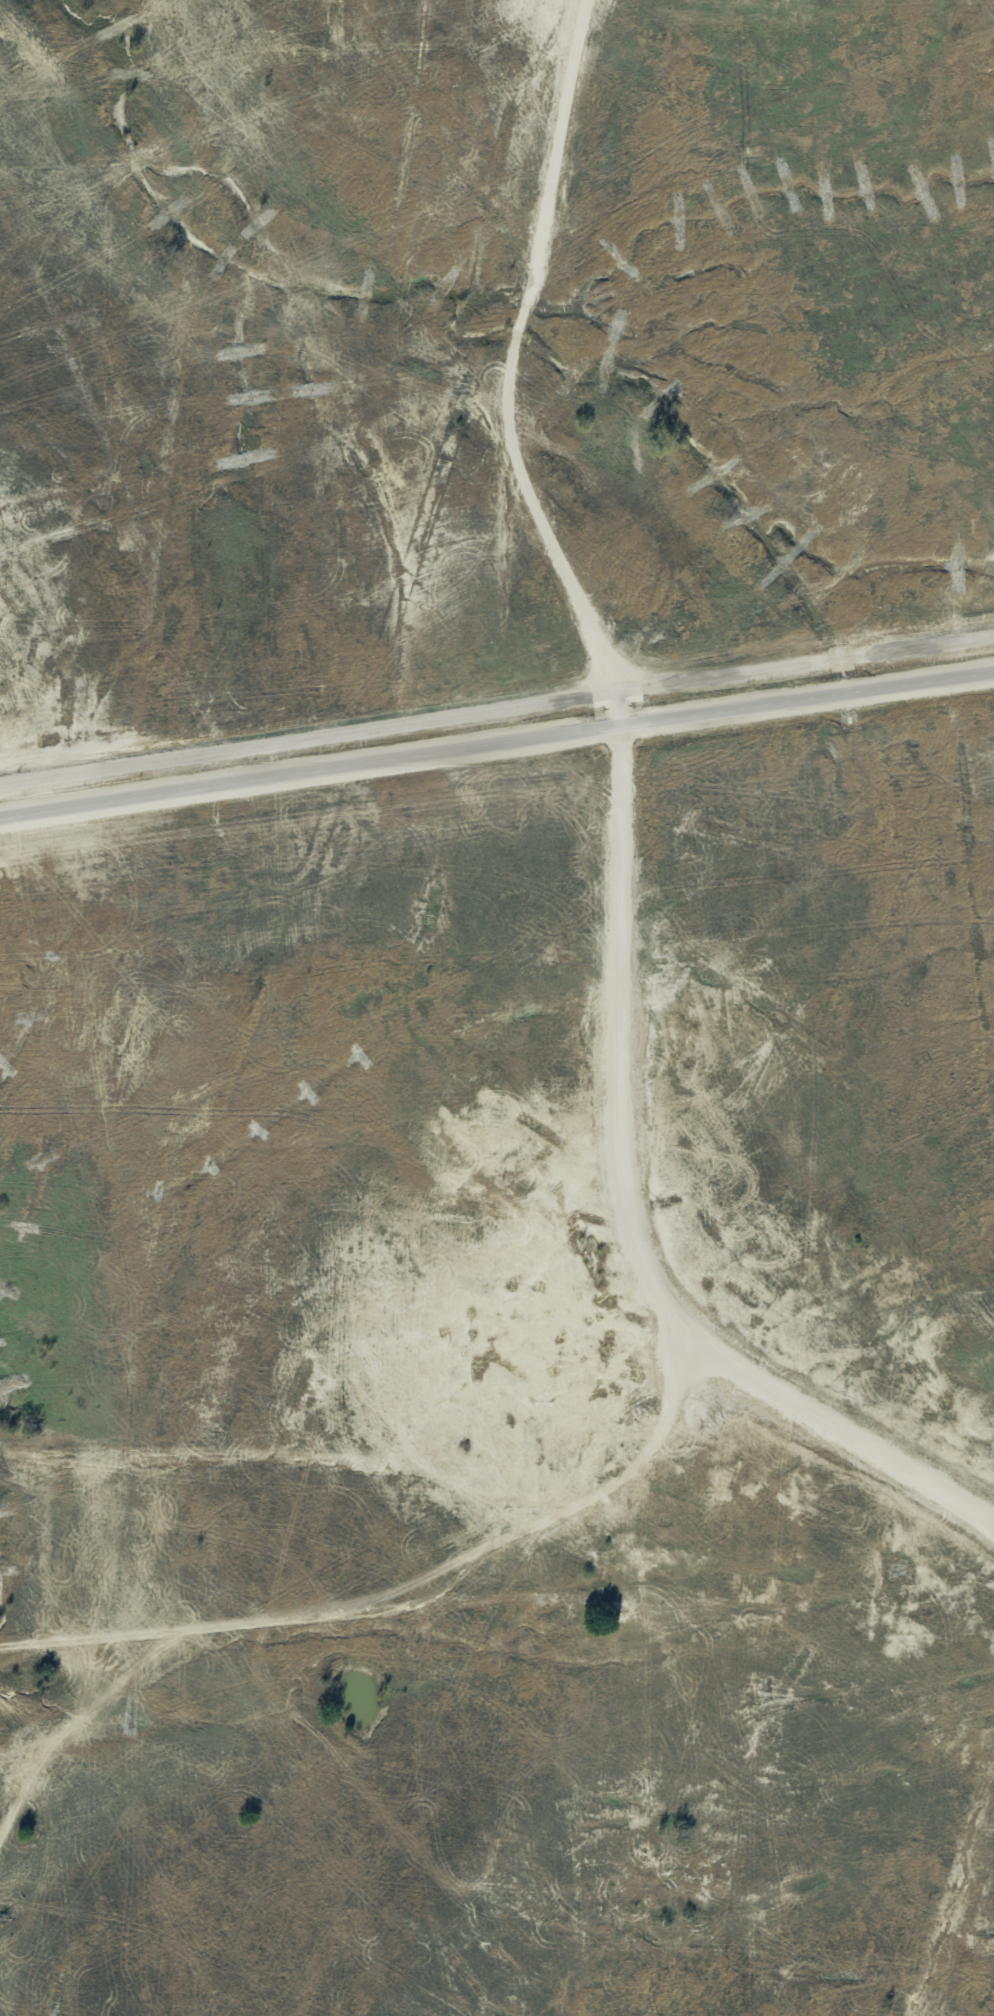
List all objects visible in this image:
road: (609, 690)
road: (496, 709)
road: (496, 745)

